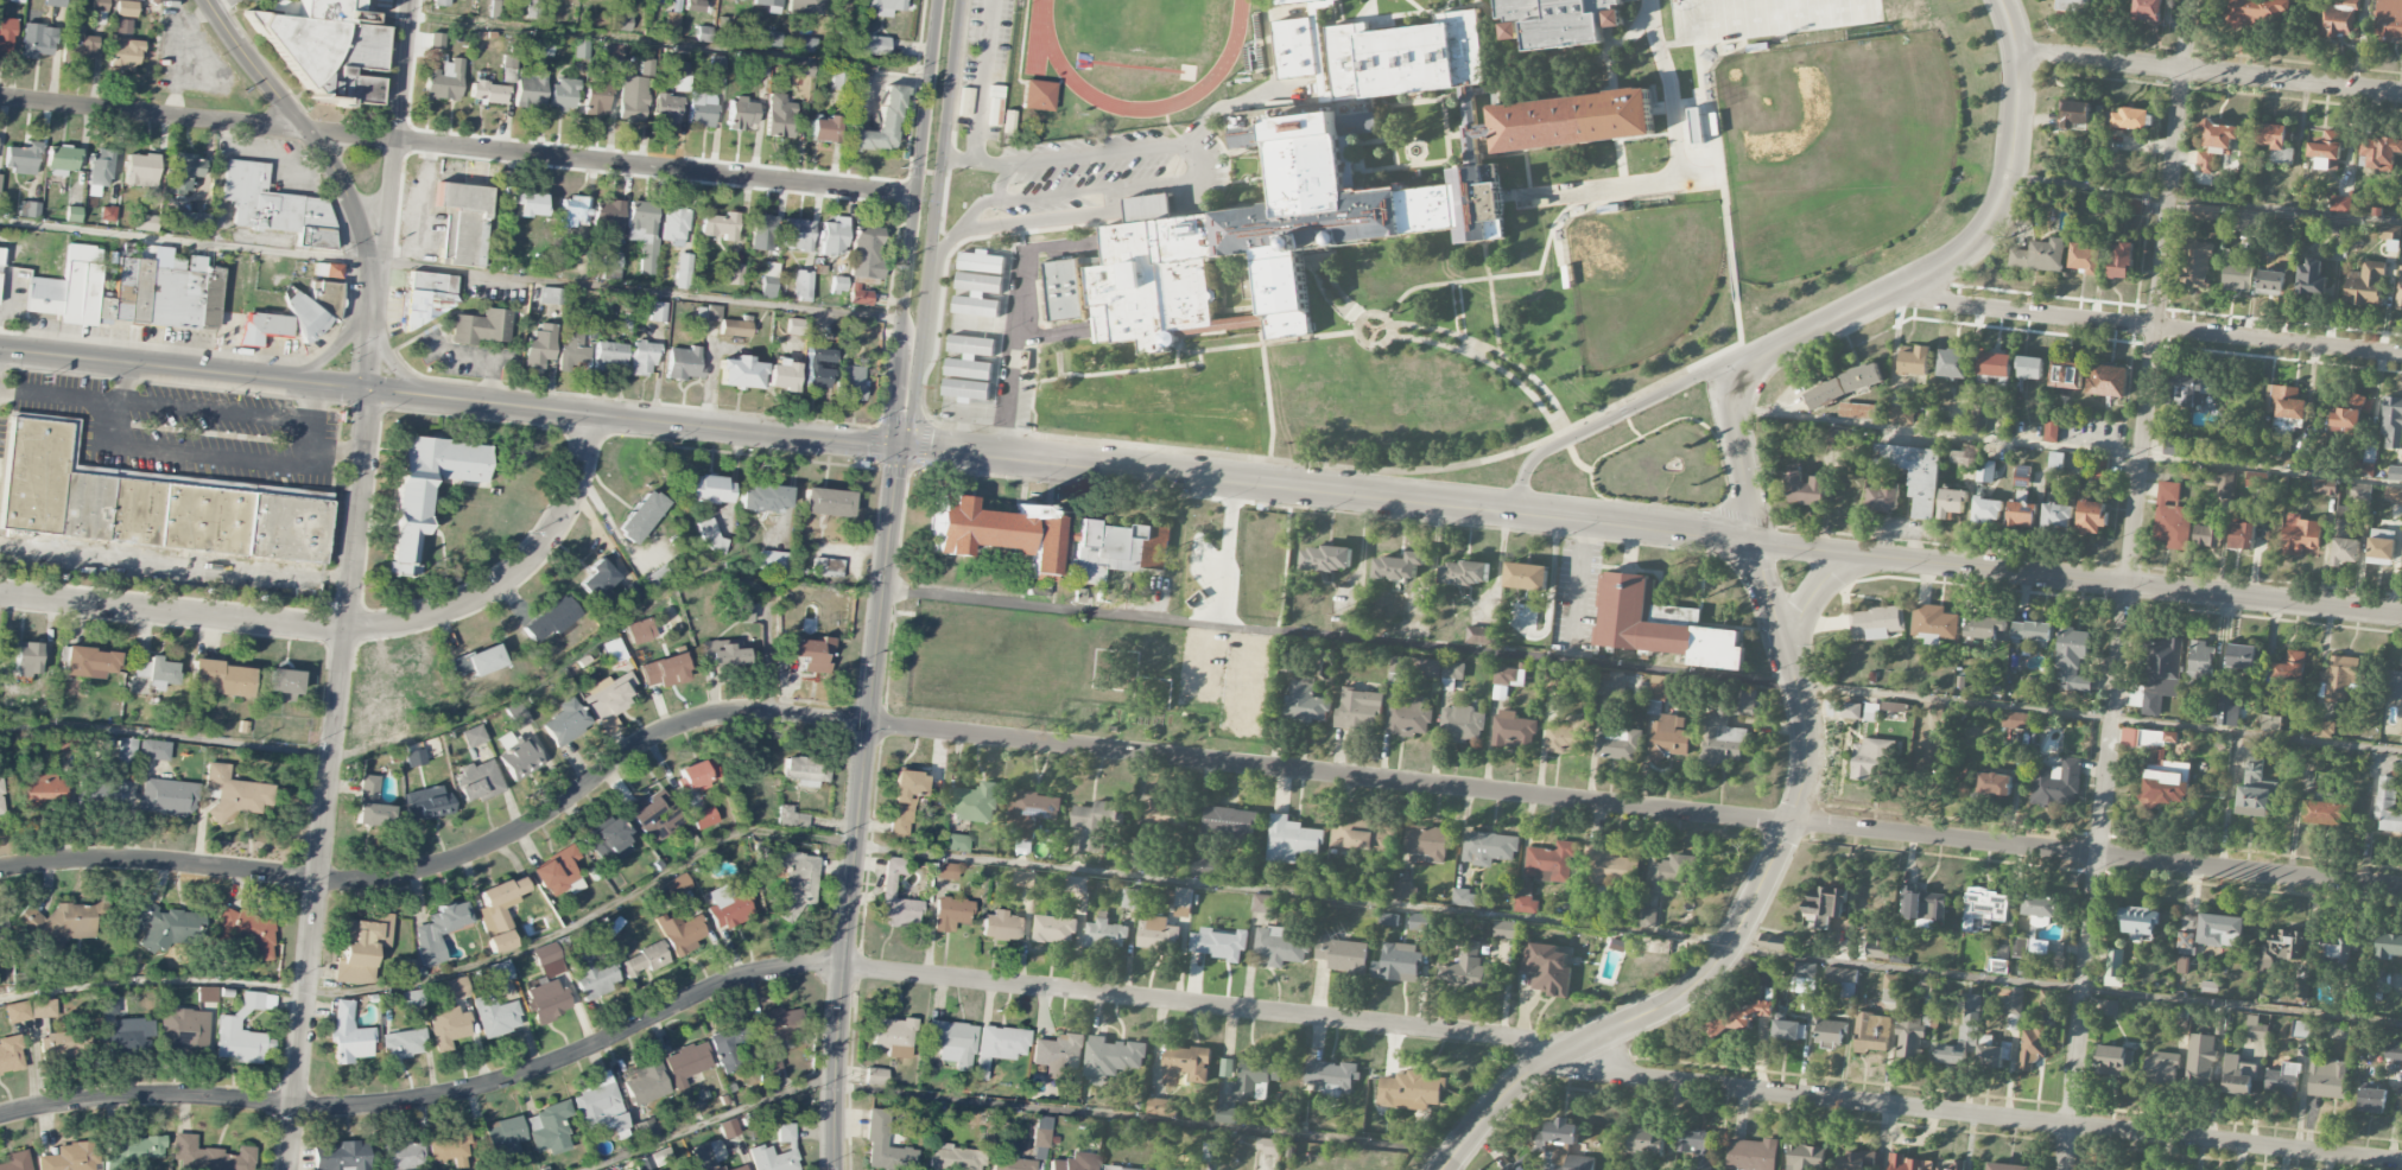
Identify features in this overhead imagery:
building: (15, 1)
building: (56, 2)
building: (442, 2)
building: (767, 2)
building: (1294, 2)
building: (100, 5)
road: (221, 5)
building: (804, 6)
building: (883, 6)
building: (2074, 6)
building: (126, 8)
building: (496, 8)
building: (2148, 11)
building: (2256, 12)
park: (1761, 17)
building: (1558, 20)
building: (2388, 20)
building: (620, 21)
building: (672, 21)
building: (2337, 21)
park: (1140, 24)
building: (703, 33)
building: (6, 36)
building: (771, 38)
building: (37, 40)
building: (436, 40)
road: (668, 44)
building: (805, 44)
building: (870, 45)
building: (80, 46)
building: (123, 46)
building: (325, 47)
building: (1298, 47)
building: (581, 49)
building: (613, 51)
road: (179, 53)
track: (1032, 58)
building: (716, 64)
building: (646, 66)
building: (508, 68)
building: (801, 68)
road: (2210, 71)
building: (680, 75)
building: (444, 81)
road: (982, 81)
road: (1666, 88)
building: (531, 90)
building: (489, 93)
building: (564, 94)
road: (1265, 95)
building: (1037, 96)
building: (596, 97)
building: (632, 98)
building: (666, 108)
building: (701, 109)
building: (740, 113)
building: (2074, 115)
building: (779, 116)
building: (2131, 120)
building: (880, 123)
building: (823, 129)
building: (2277, 142)
building: (2213, 144)
road: (456, 146)
park: (1829, 146)
road: (322, 148)
building: (2324, 150)
building: (2382, 153)
building: (21, 158)
road: (1063, 158)
road: (1202, 158)
building: (61, 160)
building: (100, 167)
building: (140, 170)
building: (182, 173)
building: (0, 174)
road: (996, 182)
building: (1336, 185)
road: (1615, 187)
road: (1073, 191)
road: (391, 195)
building: (2340, 202)
road: (2205, 203)
building: (528, 204)
building: (275, 206)
building: (2134, 206)
building: (28, 209)
building: (573, 212)
building: (2204, 212)
building: (107, 214)
building: (608, 216)
building: (191, 221)
building: (146, 222)
building: (462, 223)
road: (910, 223)
road: (1009, 223)
building: (673, 224)
road: (930, 224)
building: (720, 225)
building: (642, 233)
building: (761, 233)
building: (797, 234)
building: (834, 236)
road: (183, 243)
road: (1970, 246)
road: (1035, 248)
building: (867, 252)
building: (2048, 255)
building: (0, 256)
building: (2020, 259)
building: (2085, 259)
building: (2121, 261)
building: (610, 265)
building: (2195, 265)
building: (332, 271)
building: (682, 271)
building: (734, 274)
building: (2235, 274)
park: (1637, 276)
building: (2309, 279)
building: (768, 280)
building: (838, 284)
building: (2270, 284)
building: (801, 285)
building: (2364, 285)
building: (1063, 288)
building: (128, 291)
building: (2398, 291)
road: (640, 292)
building: (858, 294)
building: (325, 295)
building: (430, 295)
building: (551, 295)
building: (658, 311)
road: (1350, 311)
building: (712, 313)
building: (308, 319)
road: (2143, 325)
building: (481, 326)
building: (796, 326)
building: (262, 328)
building: (735, 328)
road: (1394, 328)
road: (1358, 329)
road: (1392, 330)
road: (1051, 333)
building: (540, 345)
road: (1472, 346)
building: (572, 348)
road: (1482, 348)
road: (328, 351)
road: (969, 354)
road: (1014, 354)
building: (610, 356)
building: (642, 358)
building: (1914, 360)
building: (683, 363)
building: (1953, 364)
building: (810, 365)
building: (1995, 365)
road: (395, 368)
building: (2030, 368)
building: (740, 373)
building: (781, 375)
building: (2067, 375)
building: (1862, 377)
building: (2108, 381)
building: (849, 382)
building: (2187, 390)
building: (1825, 394)
road: (77, 402)
building: (2286, 407)
road: (214, 409)
building: (1856, 411)
building: (2349, 414)
building: (1900, 415)
road: (1606, 418)
road: (1806, 418)
building: (1978, 419)
building: (2391, 422)
road: (1561, 426)
building: (2051, 430)
road: (310, 438)
building: (1837, 439)
traffic signals: (896, 447)
road: (2077, 450)
road: (195, 454)
building: (2293, 462)
building: (2054, 463)
park: (1649, 465)
building: (2365, 470)
building: (1985, 471)
building: (2395, 473)
building: (1914, 475)
road: (1200, 478)
building: (2220, 481)
building: (2326, 488)
building: (708, 489)
building: (2360, 491)
building: (2393, 495)
building: (763, 498)
building: (1883, 498)
building: (826, 502)
building: (150, 503)
building: (1951, 503)
building: (1988, 510)
building: (2022, 515)
building: (640, 516)
building: (2056, 517)
building: (2170, 517)
building: (2091, 519)
building: (407, 522)
building: (1000, 533)
building: (2207, 535)
building: (710, 536)
building: (2242, 536)
building: (2300, 536)
building: (2344, 543)
building: (2381, 552)
road: (1227, 553)
building: (1326, 558)
building: (773, 560)
building: (1399, 566)
building: (826, 567)
road: (511, 572)
road: (722, 572)
building: (1464, 573)
building: (1526, 577)
building: (655, 578)
building: (596, 579)
road: (1579, 584)
road: (2127, 585)
building: (633, 592)
road: (1807, 593)
road: (171, 610)
building: (743, 612)
building: (552, 621)
building: (1933, 622)
building: (1876, 623)
building: (1411, 629)
building: (1986, 629)
building: (640, 631)
building: (2032, 631)
building: (1479, 636)
building: (812, 654)
building: (722, 655)
building: (2242, 657)
building: (27, 659)
building: (2161, 659)
building: (2072, 660)
building: (477, 661)
building: (88, 662)
building: (2200, 662)
building: (1412, 669)
building: (2289, 669)
building: (666, 670)
road: (1641, 670)
building: (152, 674)
building: (1452, 675)
building: (221, 678)
building: (2339, 678)
building: (1507, 681)
building: (1612, 683)
building: (283, 685)
building: (2396, 686)
building: (1662, 688)
building: (609, 700)
building: (1745, 702)
building: (1305, 704)
building: (1894, 707)
building: (1358, 710)
building: (2226, 710)
building: (1850, 711)
building: (516, 714)
building: (1408, 717)
road: (460, 720)
building: (2016, 720)
building: (566, 721)
building: (2270, 723)
building: (1462, 725)
building: (1513, 730)
building: (2321, 730)
building: (473, 736)
building: (1567, 737)
building: (1669, 738)
building: (1720, 740)
building: (2149, 740)
building: (1618, 744)
building: (154, 750)
building: (126, 752)
road: (1180, 757)
building: (411, 758)
building: (519, 759)
building: (1872, 759)
building: (805, 770)
building: (695, 776)
building: (412, 778)
road: (327, 780)
building: (476, 781)
building: (2322, 782)
building: (1994, 784)
building: (2056, 784)
building: (2165, 787)
building: (43, 790)
building: (2255, 791)
building: (102, 793)
building: (234, 793)
building: (166, 797)
building: (1, 801)
building: (904, 801)
building: (427, 802)
building: (370, 803)
building: (976, 803)
building: (2388, 805)
road: (857, 808)
building: (1033, 812)
building: (1161, 814)
building: (2327, 814)
building: (653, 815)
building: (703, 818)
building: (791, 818)
building: (1229, 822)
building: (1095, 824)
building: (1361, 834)
building: (607, 839)
road: (1780, 839)
building: (1291, 840)
building: (956, 842)
building: (1427, 842)
building: (1489, 848)
building: (759, 851)
building: (1551, 863)
building: (1608, 866)
building: (1208, 867)
building: (945, 871)
building: (557, 872)
building: (1672, 873)
building: (1025, 879)
building: (797, 882)
building: (676, 885)
building: (1077, 885)
road: (1183, 885)
building: (888, 886)
building: (1402, 891)
building: (1464, 898)
building: (1525, 898)
building: (1132, 899)
building: (1180, 902)
building: (1262, 904)
building: (1824, 905)
building: (727, 907)
building: (1922, 907)
building: (1984, 909)
building: (2041, 910)
building: (499, 913)
building: (951, 913)
building: (1647, 918)
building: (1389, 920)
building: (59, 923)
building: (2140, 923)
building: (163, 926)
building: (1001, 927)
building: (1053, 929)
building: (439, 930)
building: (1504, 930)
building: (2220, 930)
building: (248, 933)
building: (679, 933)
building: (1105, 934)
building: (1158, 934)
building: (2187, 943)
building: (1218, 945)
building: (2283, 946)
building: (2389, 946)
building: (1280, 947)
building: (361, 949)
building: (1877, 949)
building: (2020, 949)
building: (1342, 954)
building: (2338, 954)
building: (547, 960)
building: (642, 960)
building: (1399, 964)
building: (2182, 965)
building: (1998, 967)
building: (2113, 968)
building: (1471, 969)
building: (1547, 969)
road: (768, 971)
building: (499, 972)
building: (1443, 973)
building: (1804, 978)
building: (592, 979)
building: (1842, 981)
building: (455, 987)
building: (207, 994)
building: (412, 998)
building: (253, 1000)
building: (546, 1000)
building: (2045, 1000)
building: (107, 1002)
building: (43, 1007)
building: (2011, 1009)
building: (2109, 1009)
building: (17, 1012)
building: (495, 1016)
building: (448, 1026)
building: (2256, 1029)
building: (2300, 1029)
building: (183, 1030)
building: (1789, 1030)
building: (1827, 1034)
building: (1871, 1034)
building: (128, 1035)
building: (1963, 1035)
building: (349, 1036)
building: (893, 1036)
building: (775, 1038)
building: (1909, 1041)
building: (239, 1042)
building: (952, 1042)
building: (65, 1043)
building: (2033, 1043)
building: (403, 1044)
building: (999, 1045)
building: (2393, 1050)
building: (1058, 1051)
building: (9, 1054)
building: (1989, 1056)
building: (1113, 1057)
building: (2112, 1061)
building: (686, 1063)
building: (1186, 1066)
building: (2199, 1067)
building: (1227, 1068)
building: (2160, 1069)
building: (875, 1076)
building: (2237, 1076)
building: (1257, 1077)
building: (1331, 1077)
building: (2327, 1079)
building: (2282, 1081)
building: (646, 1083)
building: (1411, 1092)
building: (2372, 1101)
road: (1012, 1102)
building: (600, 1107)
building: (1161, 1107)
building: (1227, 1115)
road: (1985, 1115)
building: (549, 1128)
building: (728, 1128)
building: (645, 1130)
building: (1041, 1131)
building: (505, 1136)
building: (1642, 1142)
building: (885, 1144)
building: (1267, 1146)
building: (1698, 1146)
building: (761, 1147)
building: (1561, 1147)
building: (142, 1149)
building: (450, 1149)
building: (1211, 1152)
building: (709, 1153)
building: (404, 1155)
building: (1751, 1155)
building: (208, 1156)
building: (341, 1156)
building: (70, 1157)
building: (955, 1158)
building: (1008, 1158)
building: (15, 1161)
building: (1857, 1161)
building: (1075, 1162)
building: (1908, 1163)
building: (1950, 1165)
building: (2005, 1166)
building: (718, 1168)
building: (737, 1168)
building: (1509, 1168)
building: (1118, 1169)

